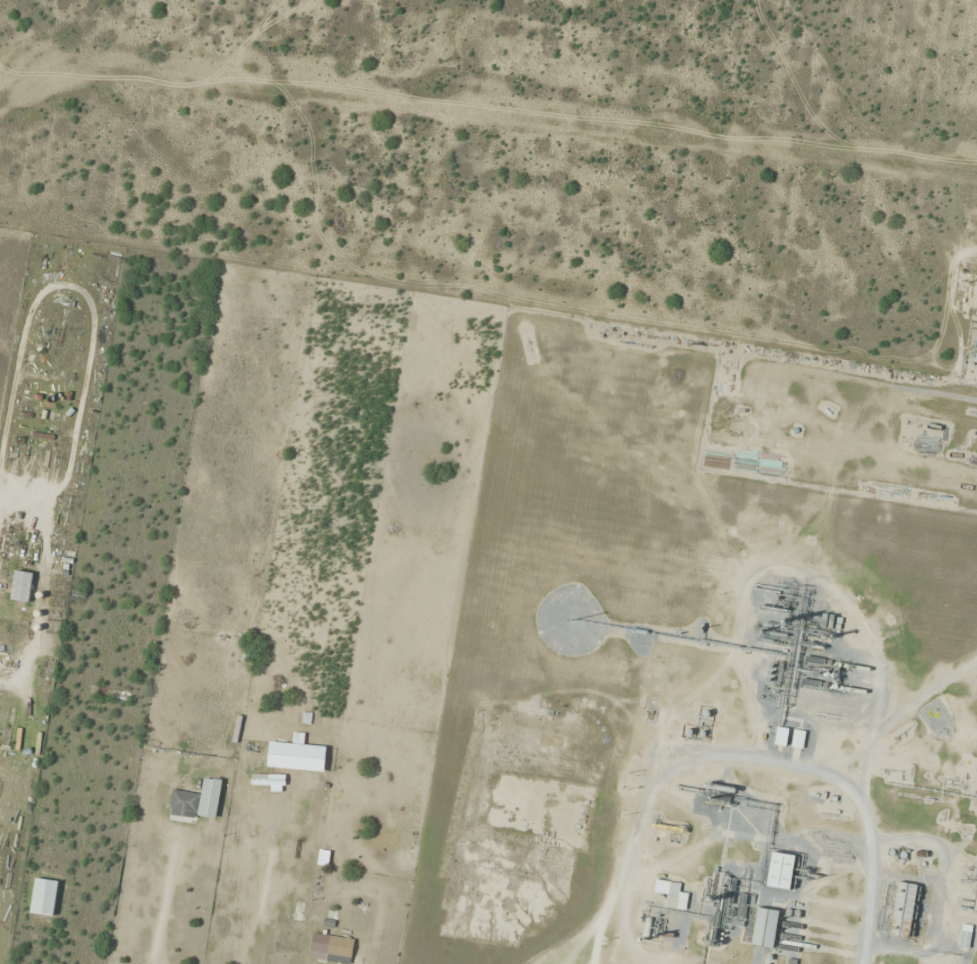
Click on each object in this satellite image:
building: (22, 586)
building: (782, 736)
building: (268, 779)
building: (210, 797)
building: (184, 804)
building: (781, 870)
building: (671, 894)
building: (908, 908)
building: (299, 911)
building: (765, 928)
building: (340, 949)

